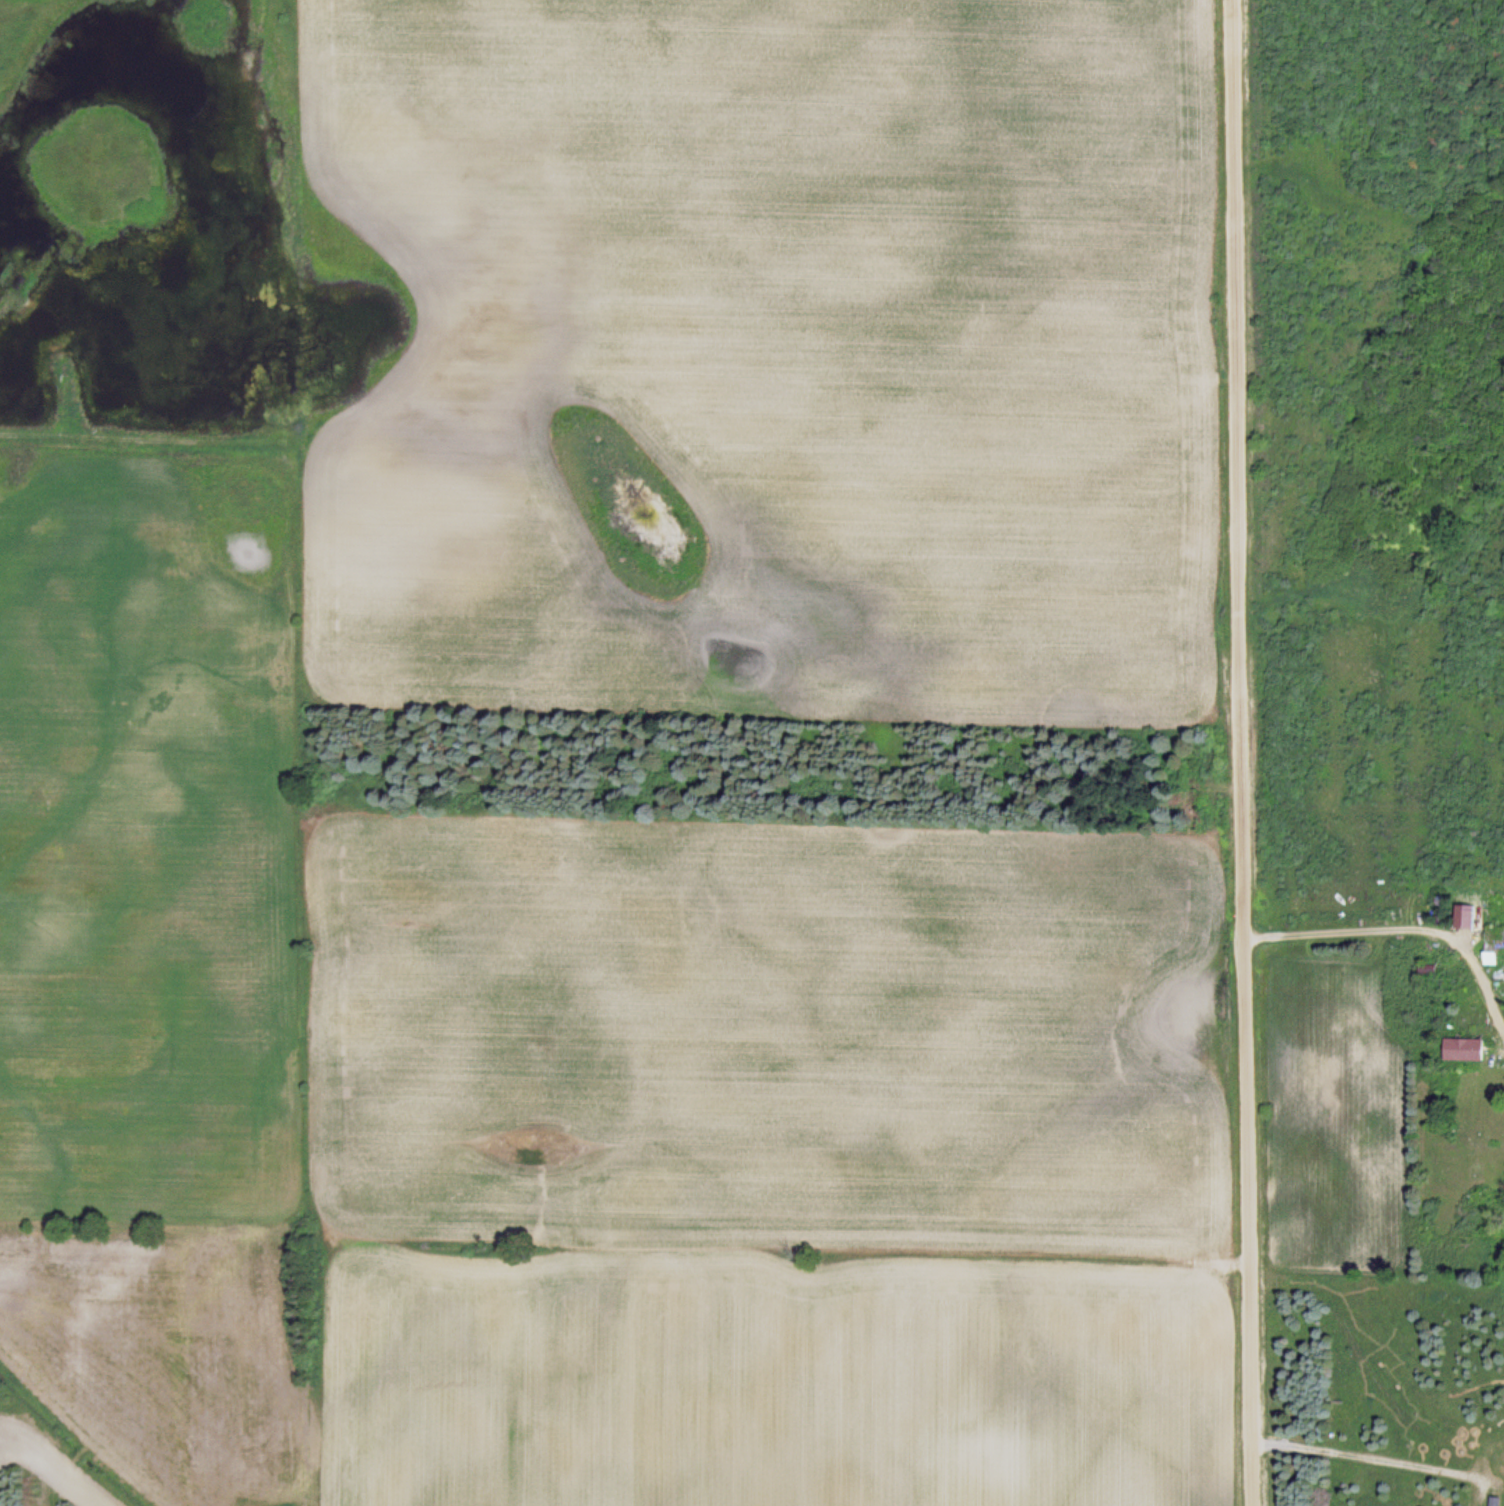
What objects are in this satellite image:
road: (1242, 753)
building: (1492, 943)
building: (1462, 1051)

